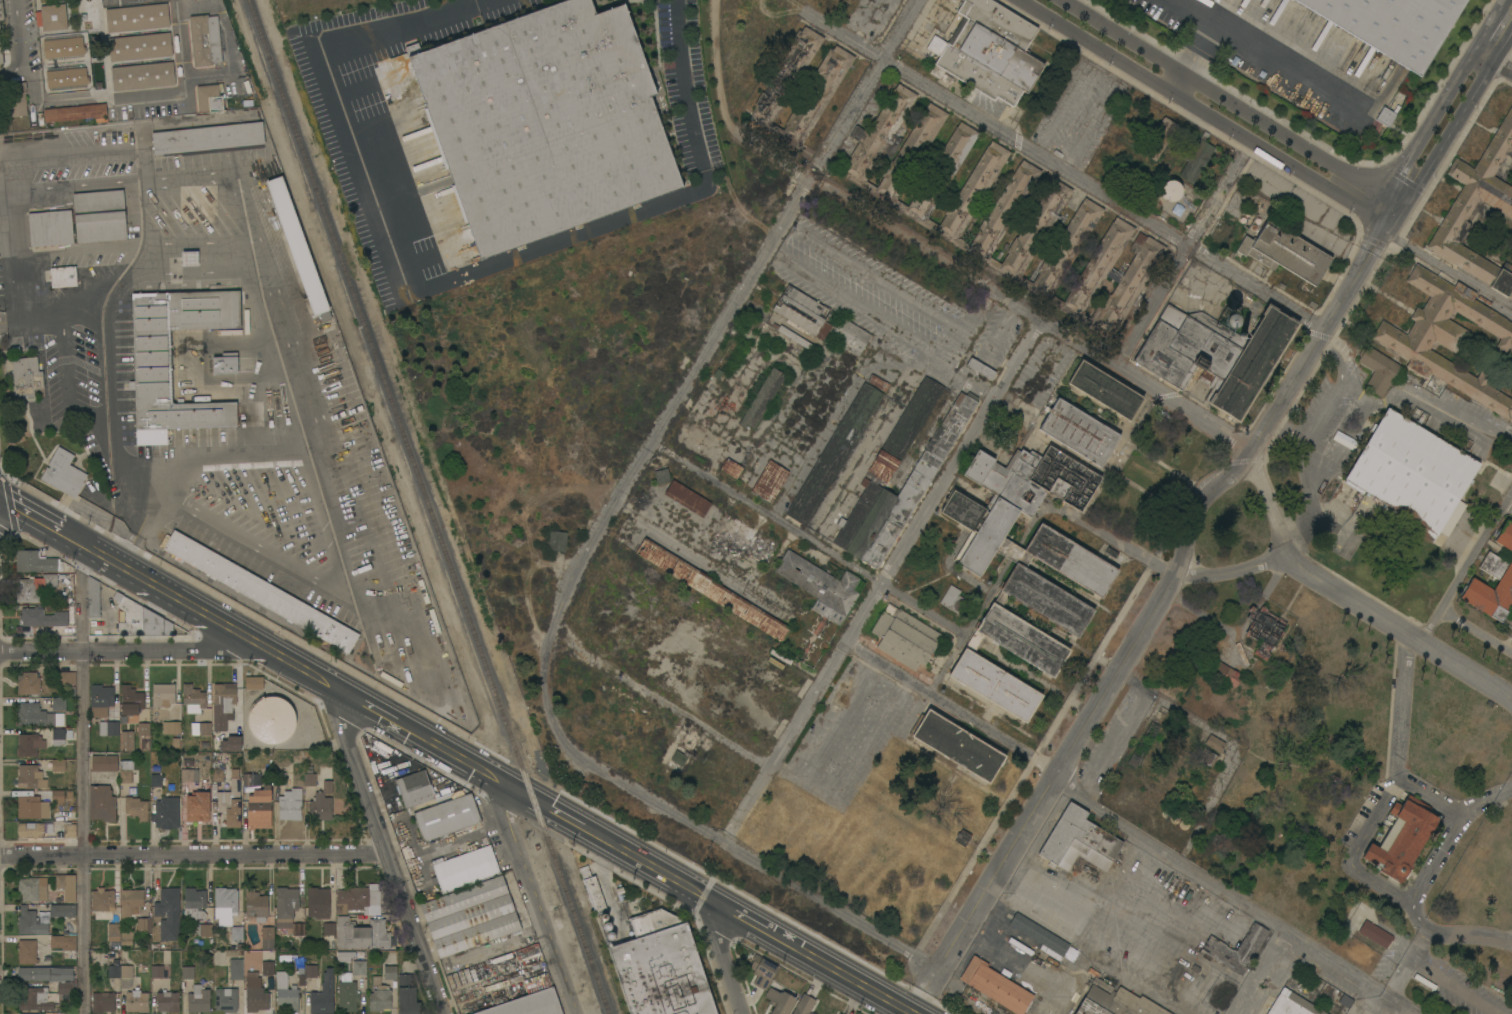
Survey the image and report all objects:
road: (1501, 7)
building: (1, 11)
building: (52, 17)
building: (137, 17)
building: (1392, 25)
road: (16, 34)
road: (1484, 34)
building: (205, 40)
building: (63, 46)
building: (139, 46)
road: (1200, 47)
building: (2, 50)
road: (1268, 54)
building: (988, 55)
road: (1481, 60)
road: (1501, 71)
building: (67, 76)
building: (143, 76)
building: (825, 83)
road: (1179, 83)
road: (1202, 83)
building: (209, 98)
building: (16, 99)
road: (130, 99)
road: (1440, 105)
road: (1465, 107)
road: (1203, 111)
building: (74, 113)
building: (1385, 116)
building: (544, 122)
parking lot: (100, 136)
building: (207, 137)
building: (1158, 139)
road: (83, 154)
building: (1196, 159)
parking lot: (207, 160)
road: (143, 166)
parking lot: (83, 169)
road: (1066, 169)
road: (27, 177)
road: (1376, 178)
road: (1395, 188)
road: (87, 189)
building: (1170, 190)
road: (14, 196)
road: (1402, 203)
building: (1460, 209)
building: (1001, 213)
building: (99, 218)
building: (50, 228)
road: (1379, 235)
building: (297, 245)
road: (80, 252)
building: (1285, 252)
road: (15, 258)
building: (190, 258)
road: (1179, 260)
parking lot: (93, 263)
road: (1446, 270)
building: (63, 277)
road: (442, 282)
parking lot: (1, 283)
building: (1106, 284)
road: (994, 286)
road: (850, 302)
building: (802, 312)
road: (50, 317)
road: (971, 326)
building: (791, 335)
building: (850, 337)
building: (1448, 338)
road: (711, 345)
building: (1216, 354)
building: (152, 355)
building: (225, 363)
road: (63, 365)
building: (980, 368)
parking lot: (74, 369)
building: (1378, 370)
road: (963, 375)
building: (27, 376)
building: (1511, 378)
building: (878, 382)
building: (1105, 390)
building: (762, 399)
road: (1374, 409)
road: (87, 411)
building: (1078, 432)
building: (833, 454)
parking lot: (99, 463)
building: (731, 468)
building: (922, 473)
building: (1413, 473)
building: (64, 474)
building: (662, 476)
road: (318, 477)
building: (769, 482)
building: (687, 498)
building: (642, 499)
railway: (417, 507)
railway: (428, 507)
road: (767, 513)
road: (26, 519)
road: (141, 528)
building: (557, 541)
building: (747, 541)
road: (1122, 546)
building: (36, 562)
road: (1467, 566)
building: (1024, 568)
road: (1233, 570)
building: (1499, 572)
road: (884, 578)
building: (50, 581)
building: (821, 586)
building: (710, 589)
building: (27, 591)
building: (261, 592)
road: (1350, 597)
building: (92, 598)
building: (952, 599)
parking lot: (335, 608)
road: (921, 609)
building: (42, 618)
building: (140, 620)
road: (1144, 629)
building: (1264, 630)
road: (1476, 632)
building: (904, 637)
road: (120, 648)
building: (1241, 654)
building: (1224, 672)
building: (66, 678)
road: (1037, 681)
building: (28, 683)
building: (254, 683)
building: (163, 695)
building: (193, 699)
building: (100, 700)
building: (130, 701)
road: (662, 701)
building: (58, 704)
building: (223, 704)
building: (33, 715)
building: (271, 720)
storage tank: (271, 720)
building: (171, 728)
building: (201, 728)
building: (109, 729)
building: (143, 729)
building: (58, 737)
building: (127, 740)
building: (231, 744)
building: (1214, 744)
building: (29, 745)
building: (957, 745)
building: (1207, 757)
building: (678, 758)
building: (104, 763)
building: (58, 765)
road: (480, 772)
building: (127, 773)
building: (187, 775)
building: (217, 775)
building: (279, 775)
building: (30, 777)
building: (251, 779)
building: (156, 780)
road: (82, 782)
building: (414, 789)
building: (57, 796)
road: (1385, 796)
building: (294, 799)
building: (230, 800)
road: (1486, 802)
building: (101, 803)
building: (321, 803)
building: (197, 806)
building: (32, 807)
building: (136, 808)
building: (259, 808)
building: (166, 813)
road: (1109, 815)
building: (447, 817)
building: (196, 818)
road: (1456, 827)
building: (30, 830)
building: (468, 830)
building: (69, 831)
building: (962, 838)
building: (1401, 839)
building: (1078, 841)
building: (1222, 844)
road: (734, 846)
road: (192, 853)
road: (386, 855)
building: (466, 869)
building: (66, 886)
building: (32, 889)
building: (592, 890)
building: (356, 899)
road: (534, 900)
building: (317, 902)
building: (131, 903)
building: (102, 904)
building: (194, 904)
building: (225, 905)
building: (255, 905)
building: (287, 910)
building: (63, 911)
building: (168, 913)
building: (470, 916)
building: (31, 922)
building: (524, 922)
building: (143, 925)
road: (1424, 925)
building: (329, 929)
building: (113, 930)
building: (206, 930)
building: (236, 933)
building: (362, 934)
building: (527, 934)
building: (1039, 934)
building: (1375, 934)
road: (1469, 934)
building: (126, 938)
building: (267, 938)
building: (63, 943)
building: (487, 947)
building: (1236, 949)
building: (27, 952)
building: (528, 954)
building: (344, 956)
road: (724, 959)
building: (267, 967)
building: (661, 967)
building: (236, 968)
building: (359, 968)
building: (311, 969)
building: (157, 971)
building: (762, 971)
road: (1398, 971)
building: (187, 973)
building: (390, 973)
building: (121, 975)
building: (301, 976)
building: (995, 986)
building: (46, 987)
building: (286, 992)
building: (346, 992)
building: (255, 993)
building: (1222, 994)
building: (323, 995)
building: (407, 995)
building: (379, 996)
building: (198, 1000)
building: (226, 1000)
building: (779, 1001)
building: (1115, 1001)
road: (1394, 1001)
building: (103, 1002)
building: (137, 1002)
building: (167, 1002)
building: (524, 1004)
building: (804, 1005)
building: (1292, 1005)
building: (40, 1013)
building: (838, 1013)
building: (839, 1013)

